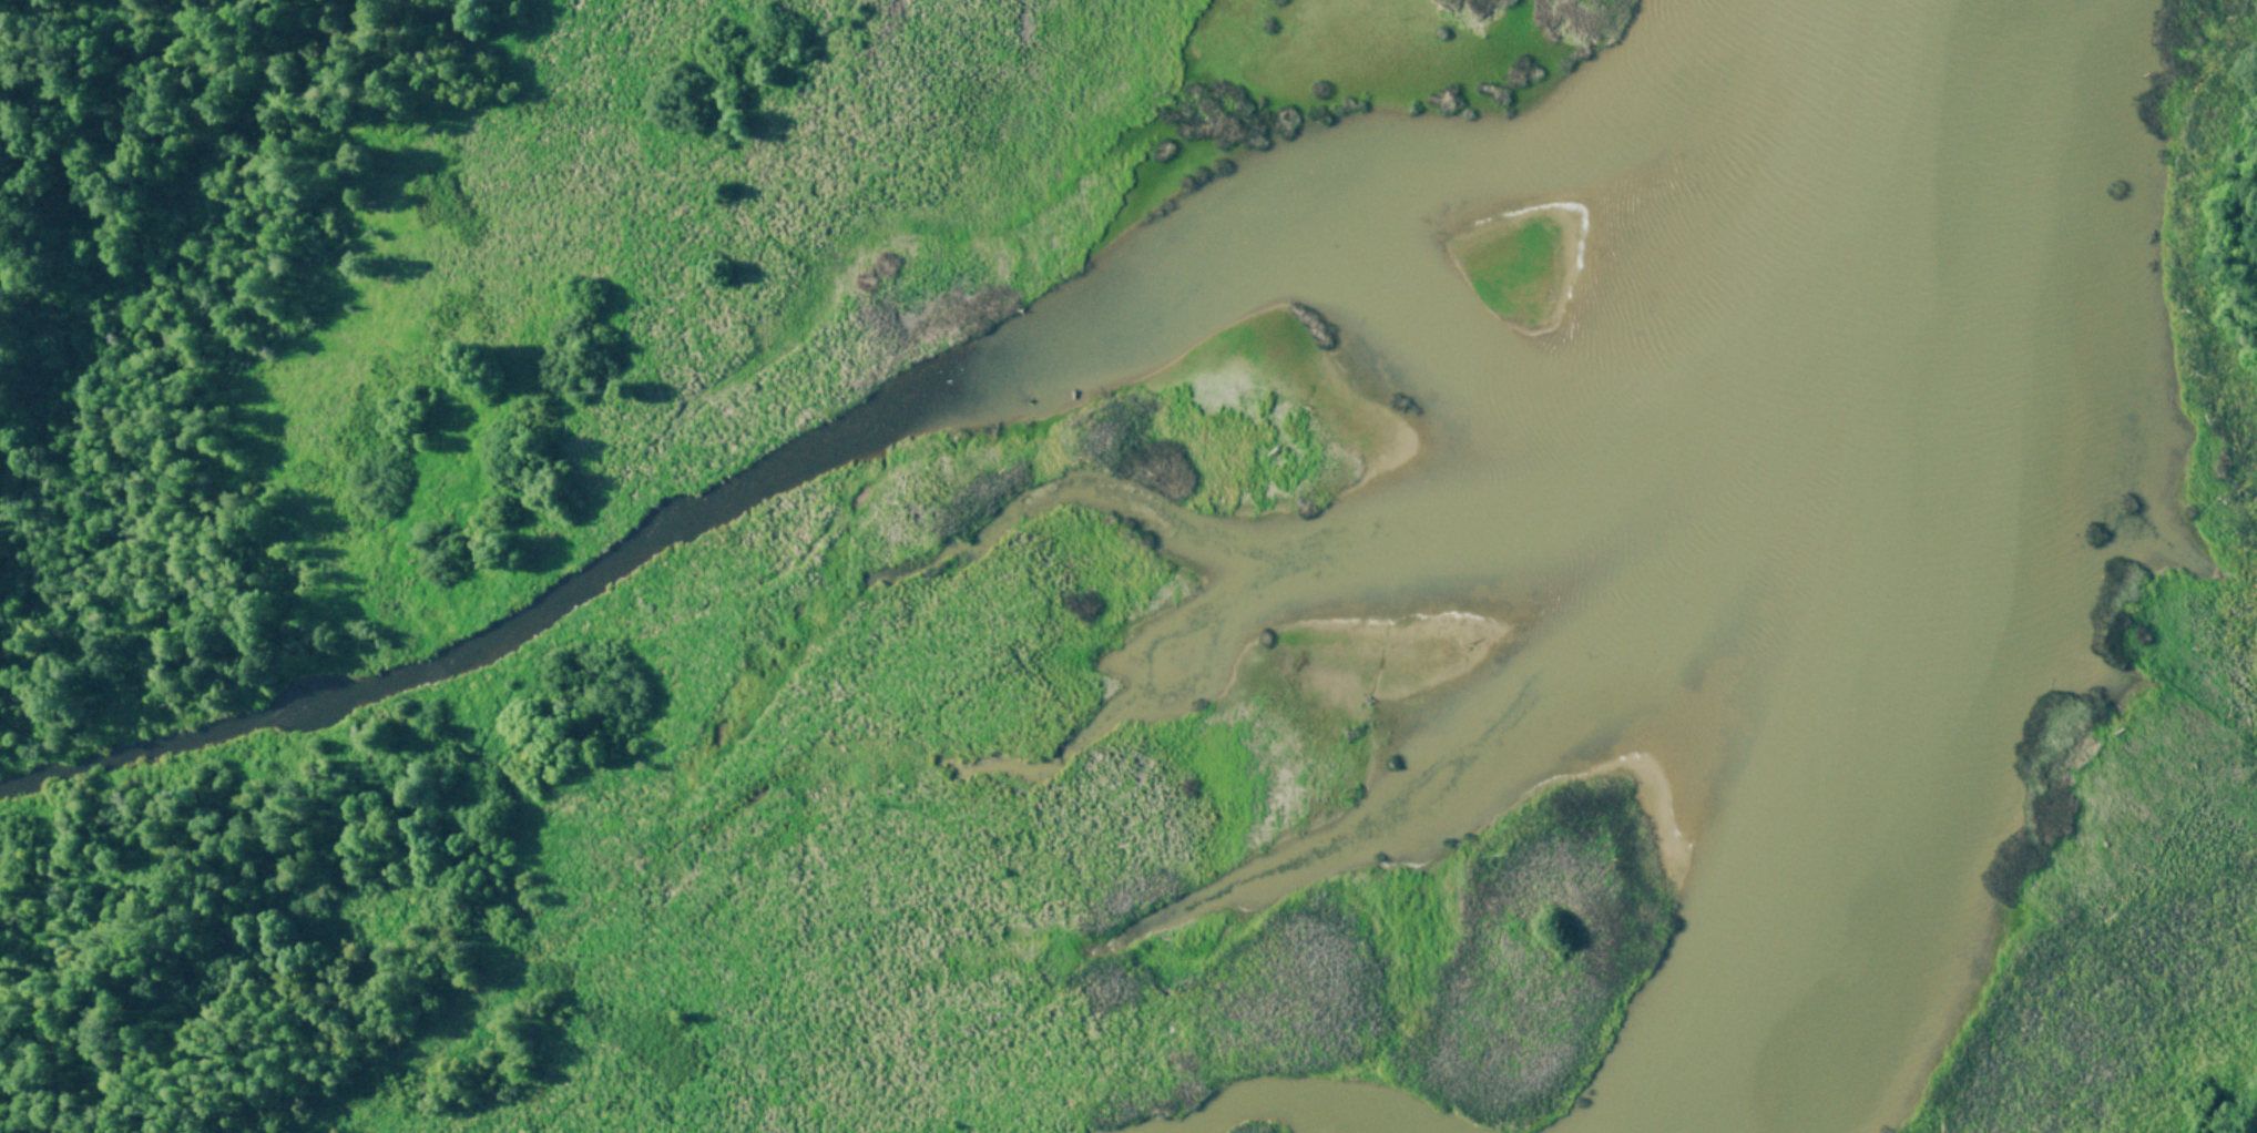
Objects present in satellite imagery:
road: (2255, 269)
river: (876, 416)
road: (433, 735)
road: (2228, 1114)

